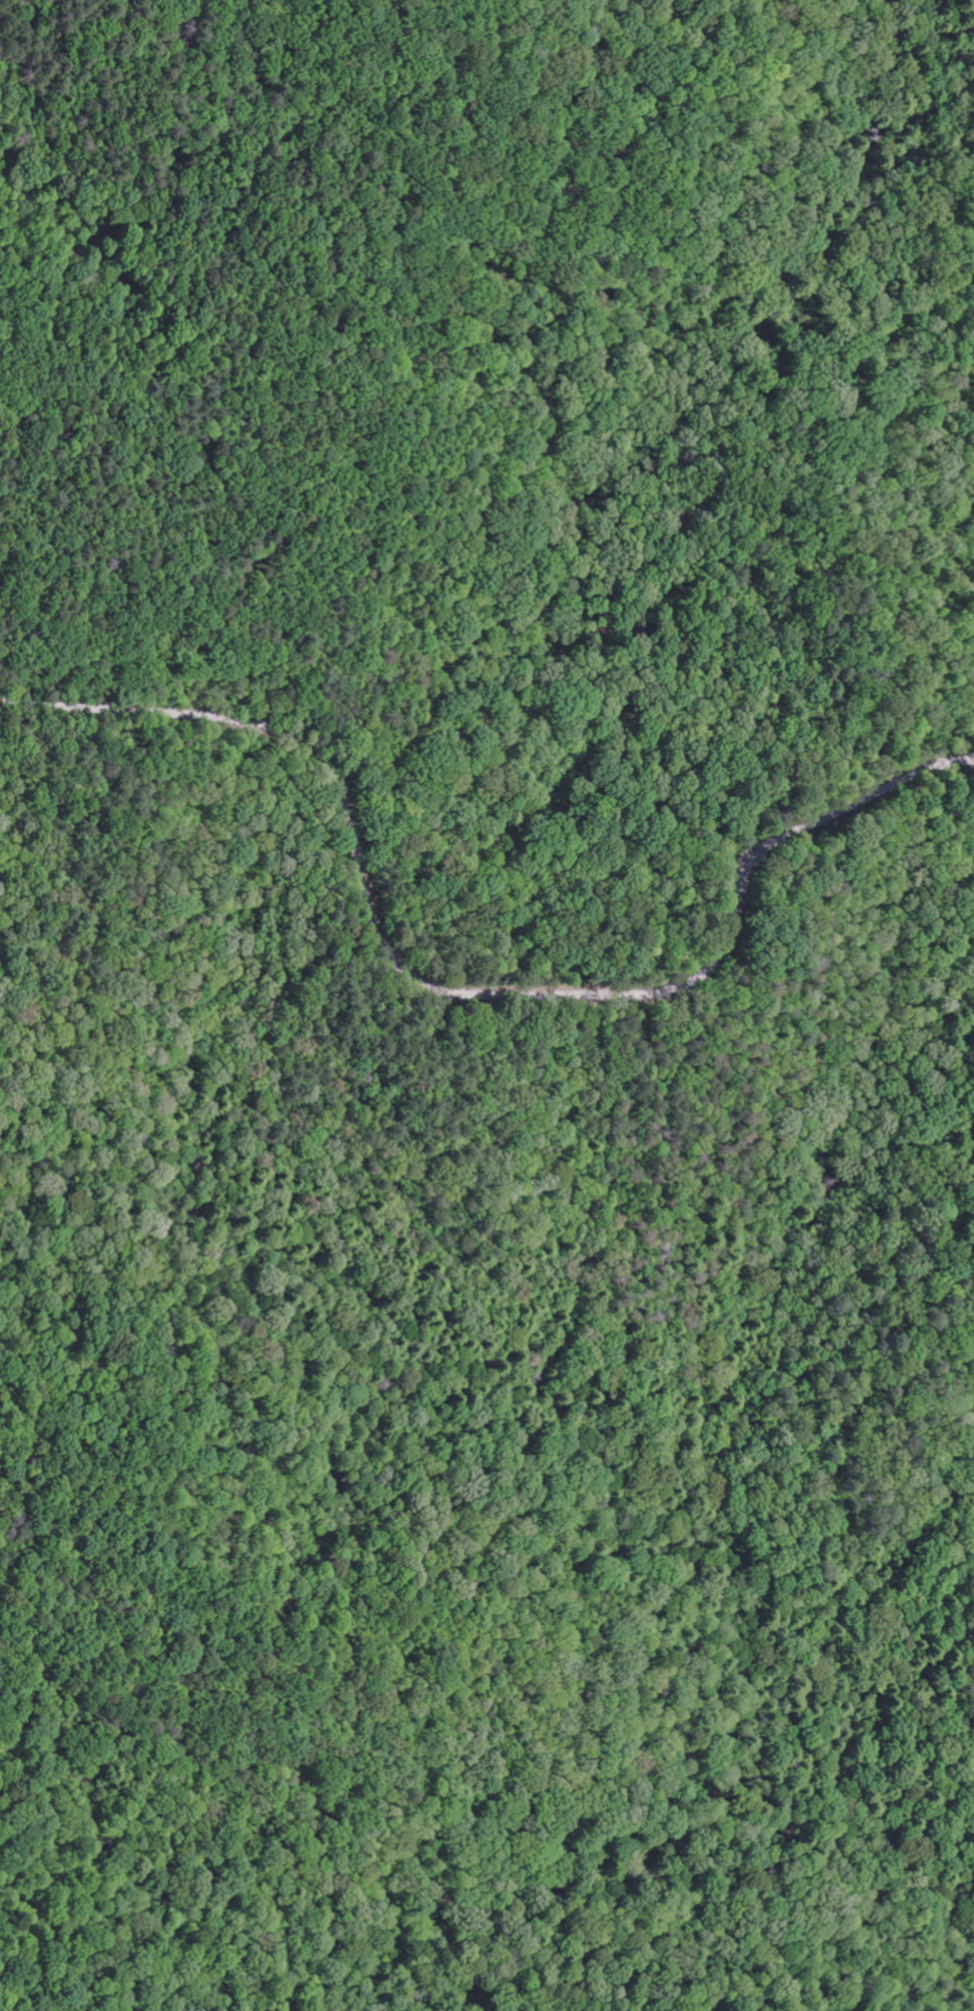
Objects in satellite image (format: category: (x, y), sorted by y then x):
road: (462, 992)

